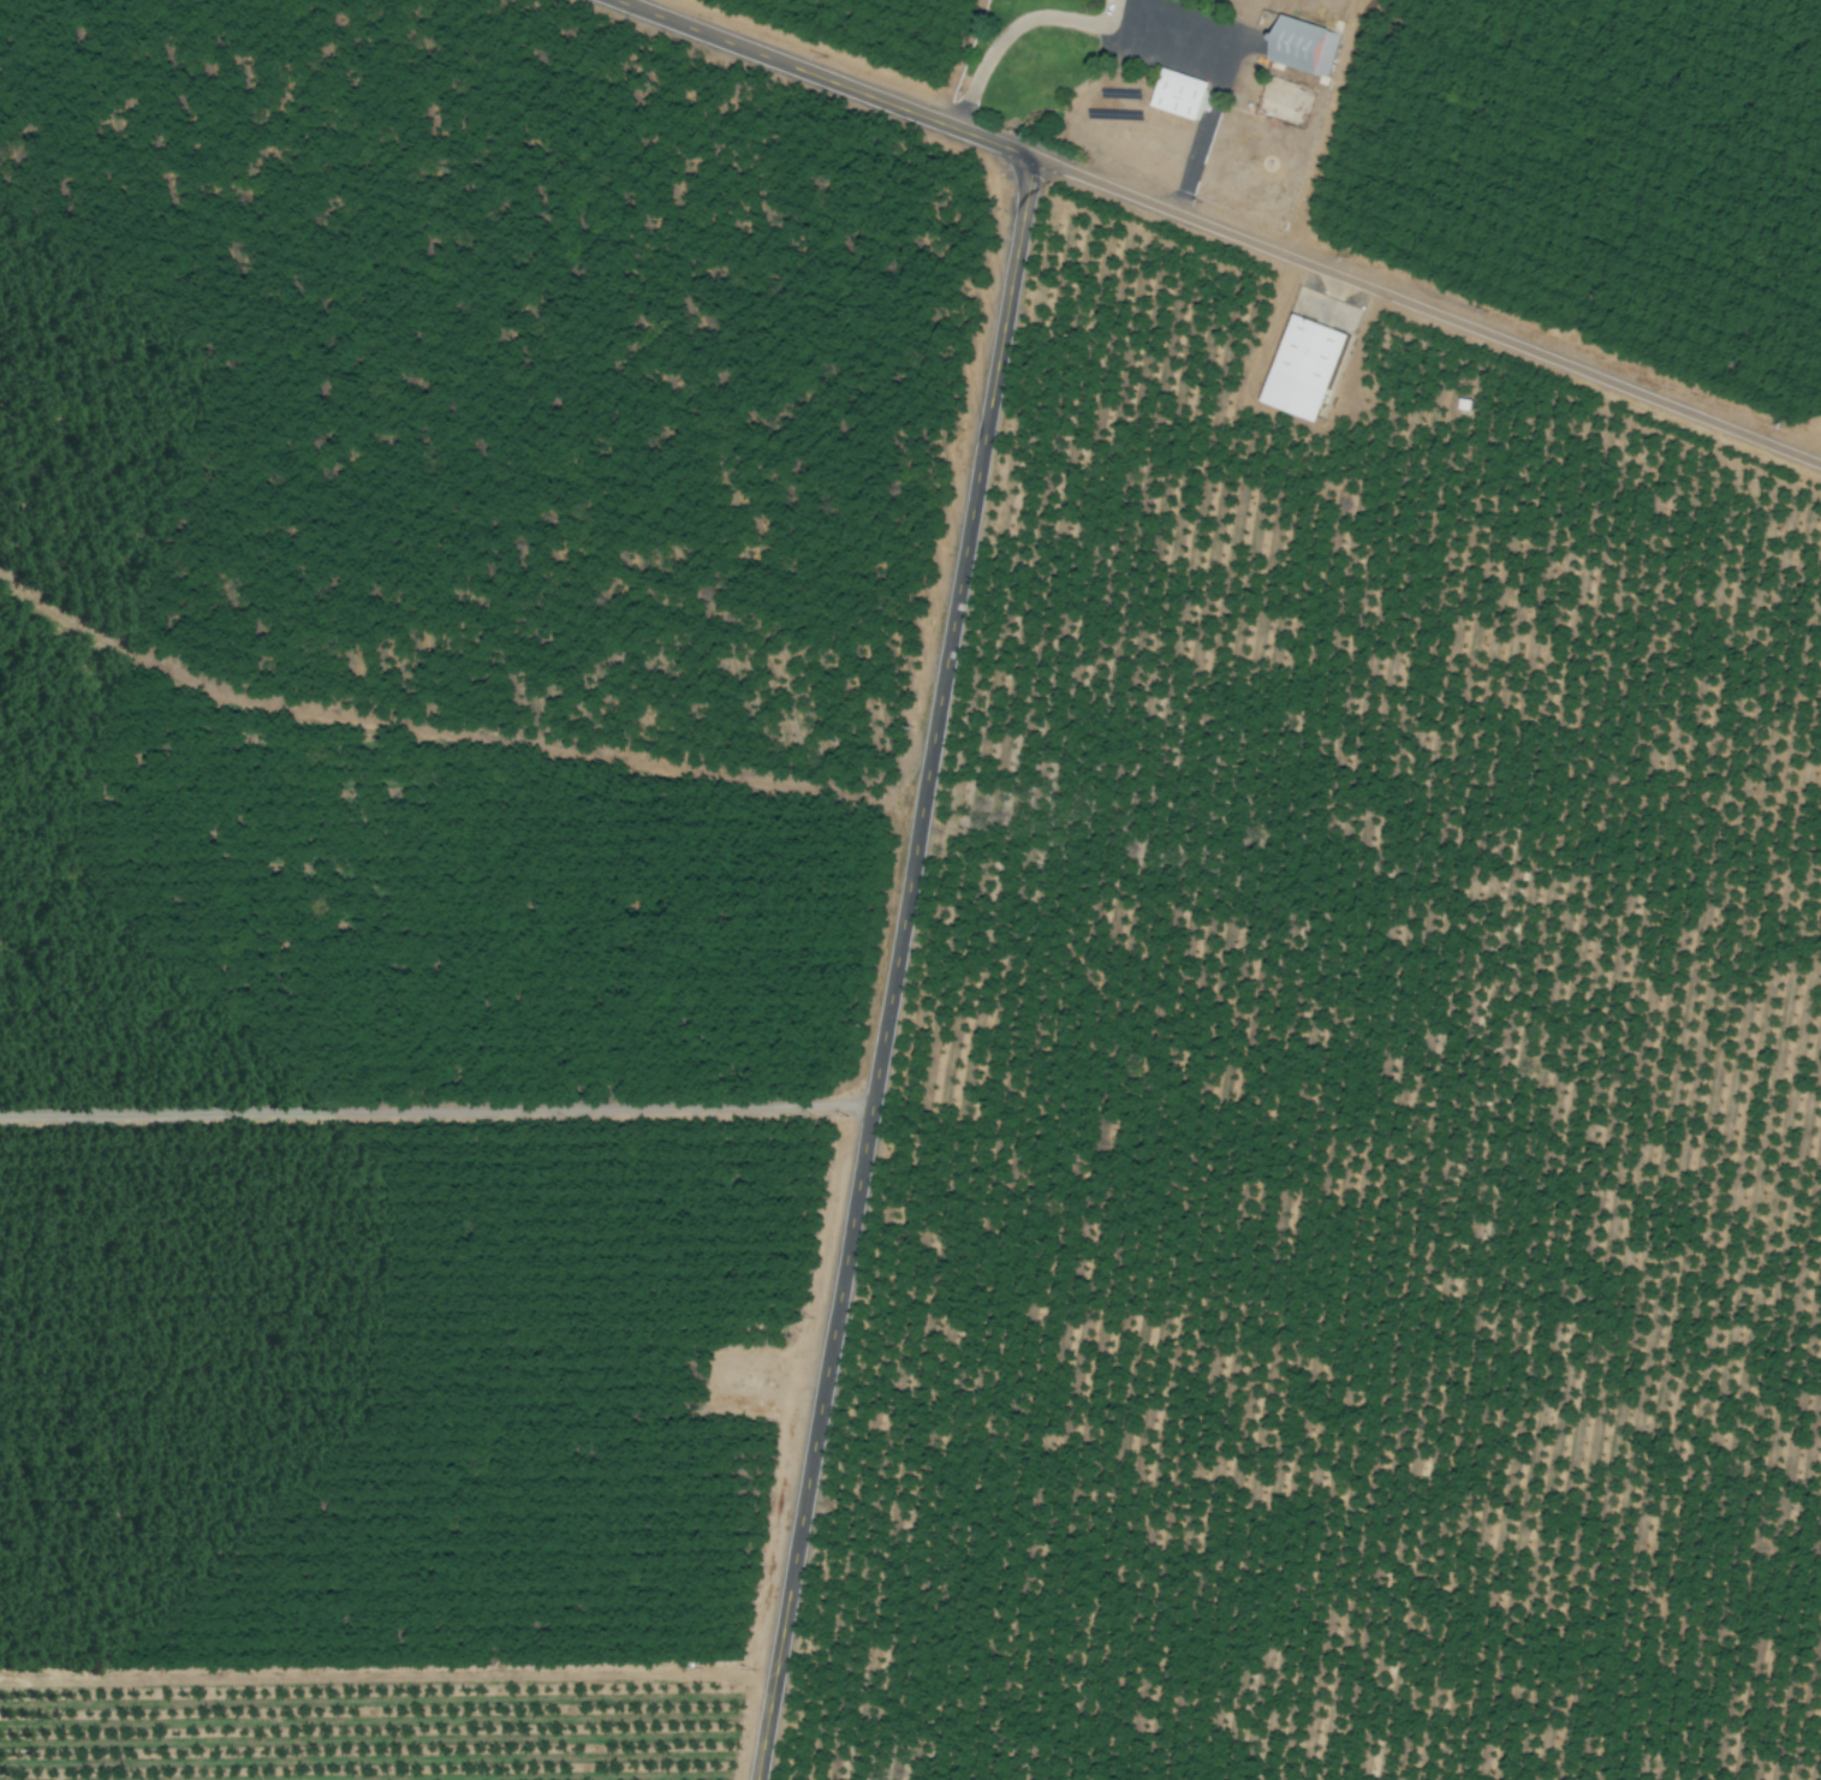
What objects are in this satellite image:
road: (1142, 28)
building: (1303, 46)
road: (820, 79)
building: (1179, 94)
road: (1426, 314)
building: (1309, 351)
road: (892, 969)
road: (435, 1108)

